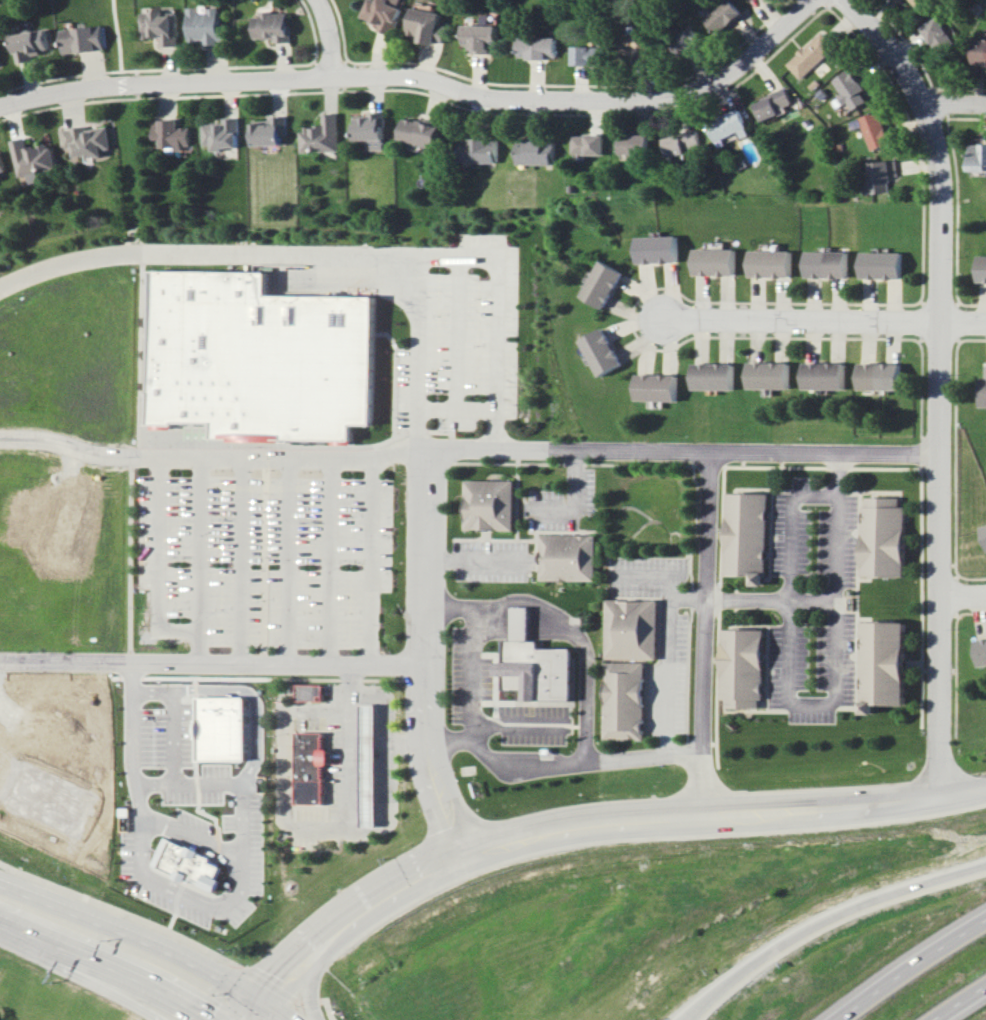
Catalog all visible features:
building: (904, 0)
building: (918, 2)
building: (384, 14)
building: (726, 16)
building: (427, 24)
building: (160, 26)
building: (206, 26)
building: (274, 26)
building: (941, 34)
road: (331, 38)
building: (482, 38)
building: (82, 39)
building: (690, 41)
building: (32, 43)
road: (118, 43)
building: (539, 47)
building: (640, 48)
building: (980, 52)
building: (813, 54)
building: (592, 55)
building: (0, 63)
road: (165, 84)
building: (854, 88)
road: (958, 98)
road: (586, 102)
building: (775, 104)
building: (731, 125)
building: (371, 129)
building: (270, 130)
building: (878, 130)
building: (421, 132)
building: (171, 133)
building: (222, 134)
building: (322, 135)
building: (87, 140)
building: (591, 144)
building: (636, 144)
building: (684, 145)
building: (480, 149)
building: (538, 151)
building: (977, 157)
building: (34, 159)
building: (2, 164)
building: (884, 175)
building: (658, 249)
road: (340, 255)
building: (715, 262)
building: (771, 263)
building: (828, 264)
building: (883, 265)
building: (982, 269)
building: (603, 284)
road: (824, 320)
road: (462, 333)
building: (602, 351)
road: (420, 353)
building: (262, 358)
building: (770, 375)
building: (826, 375)
building: (714, 376)
building: (882, 376)
road: (940, 385)
building: (657, 387)
building: (984, 392)
road: (460, 409)
road: (537, 450)
road: (134, 457)
road: (213, 458)
road: (575, 503)
building: (493, 505)
building: (983, 531)
building: (749, 537)
building: (888, 538)
parking lot: (270, 555)
building: (571, 559)
road: (480, 560)
road: (202, 561)
road: (245, 561)
road: (292, 561)
road: (332, 561)
road: (375, 561)
road: (160, 564)
road: (841, 593)
road: (962, 595)
road: (689, 599)
building: (523, 625)
building: (634, 630)
road: (707, 634)
road: (671, 638)
road: (584, 645)
road: (793, 650)
road: (476, 651)
building: (981, 651)
road: (214, 664)
building: (887, 666)
building: (748, 668)
building: (542, 669)
building: (311, 694)
building: (628, 702)
road: (521, 726)
building: (223, 728)
road: (353, 739)
road: (561, 765)
building: (373, 767)
gas station: (373, 767)
building: (314, 769)
road: (455, 795)
road: (430, 802)
road: (285, 815)
road: (587, 827)
road: (239, 829)
building: (190, 864)
road: (163, 879)
road: (823, 919)
road: (149, 939)
road: (910, 967)
road: (110, 970)
road: (312, 971)
road: (99, 983)
road: (957, 1001)
traffic signals: (260, 1003)

